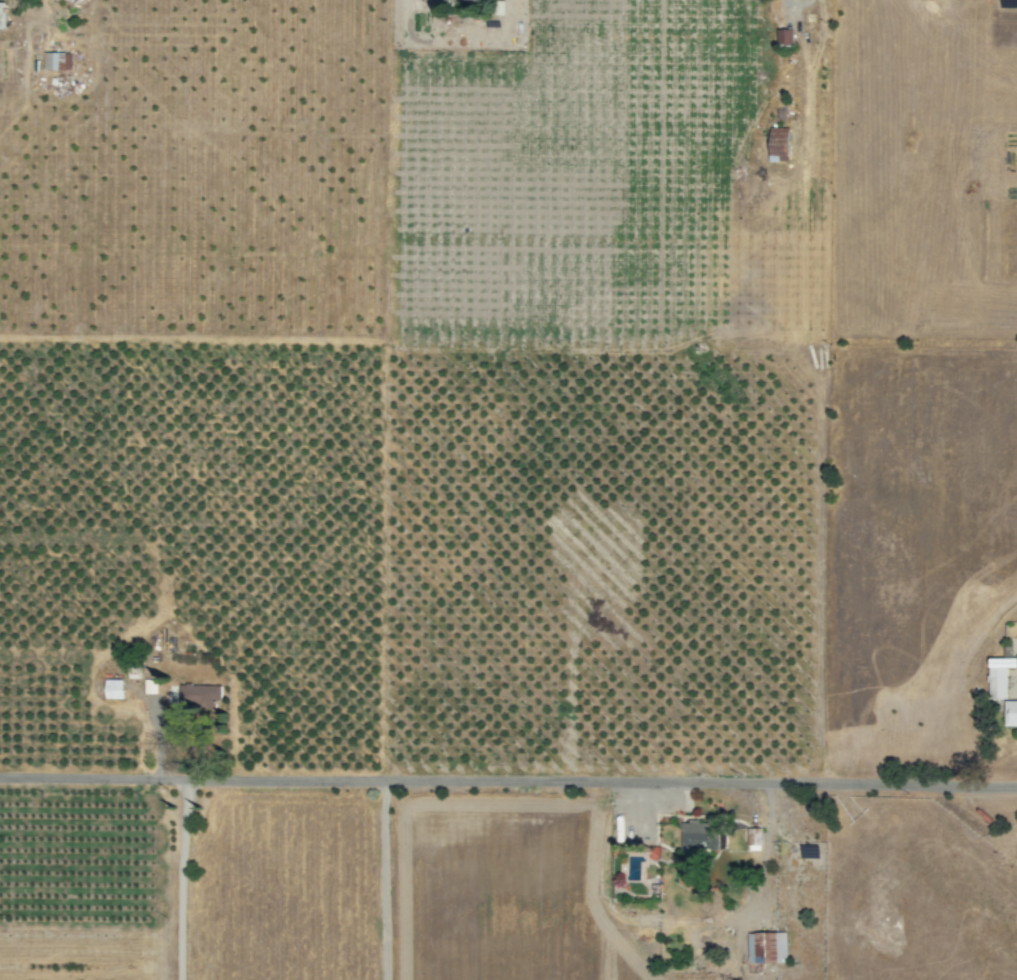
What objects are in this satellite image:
building: (467, 0)
building: (2, 16)
building: (785, 37)
building: (55, 61)
building: (779, 145)
building: (998, 676)
building: (112, 689)
building: (199, 695)
building: (1010, 713)
road: (508, 776)
building: (698, 835)
building: (754, 839)
road: (180, 876)
building: (765, 947)

